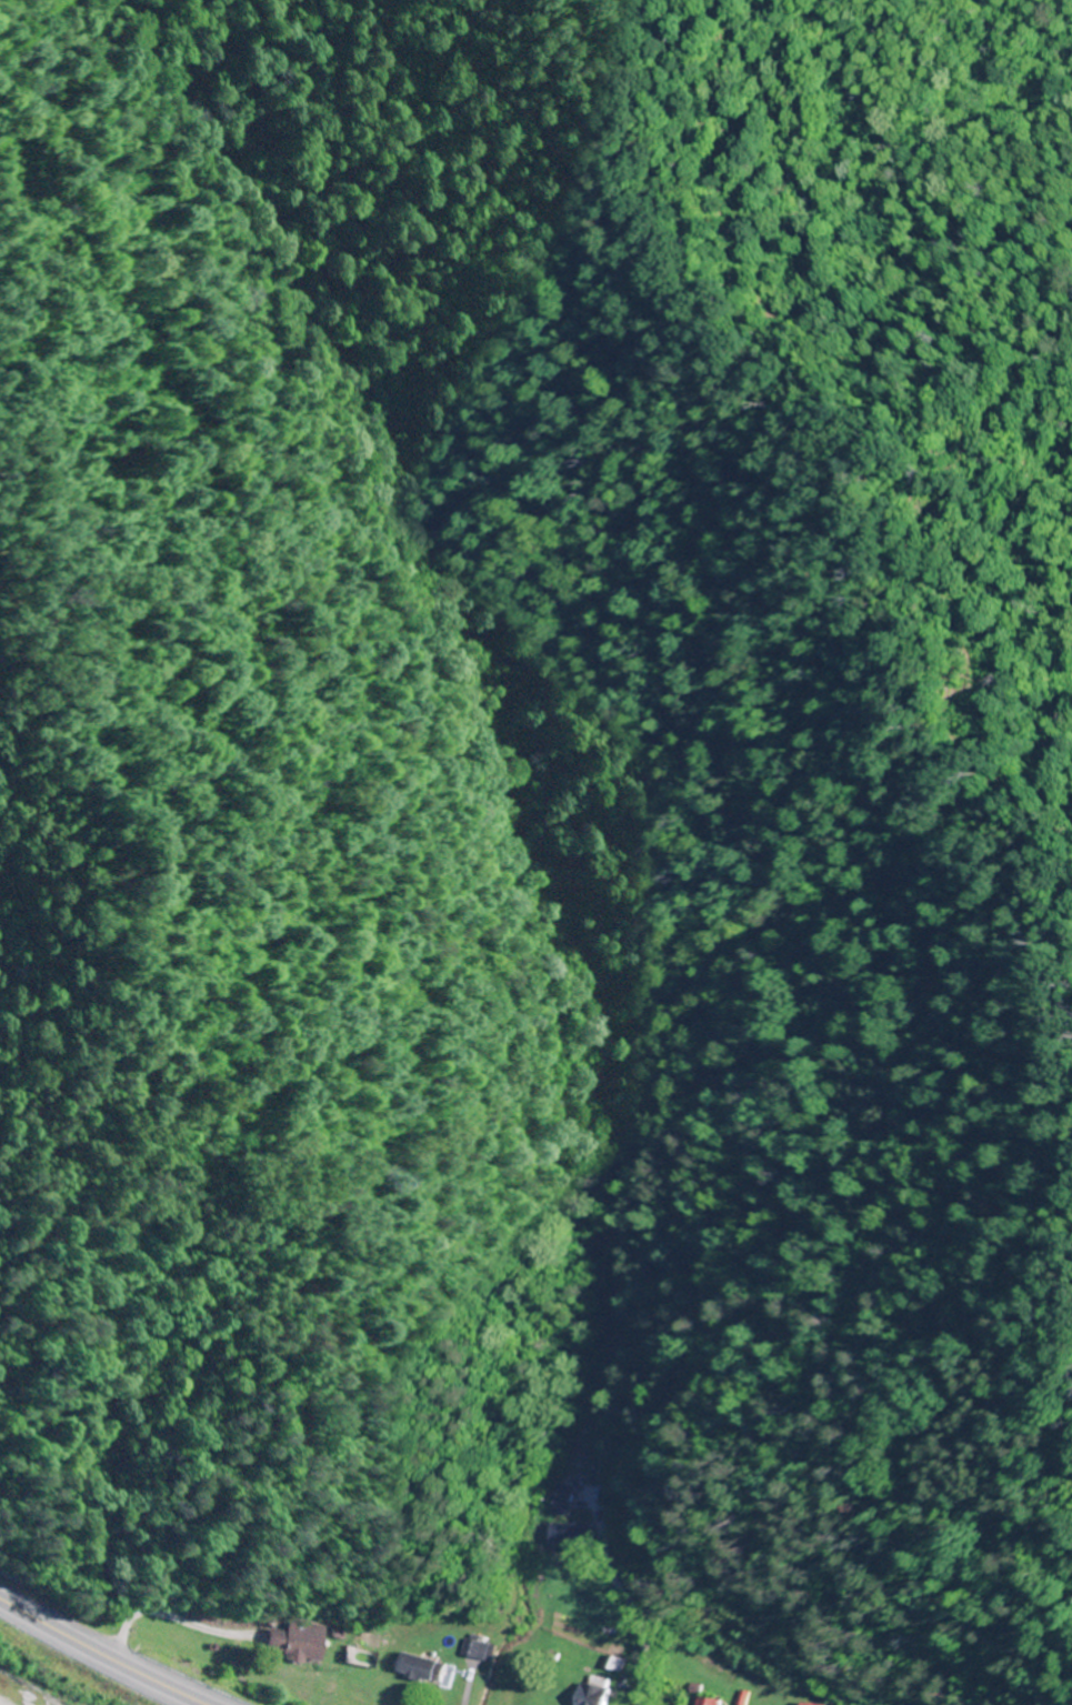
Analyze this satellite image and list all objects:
building: (569, 1536)
building: (302, 1642)
building: (479, 1649)
road: (102, 1654)
building: (425, 1668)
building: (595, 1694)
building: (708, 1702)

